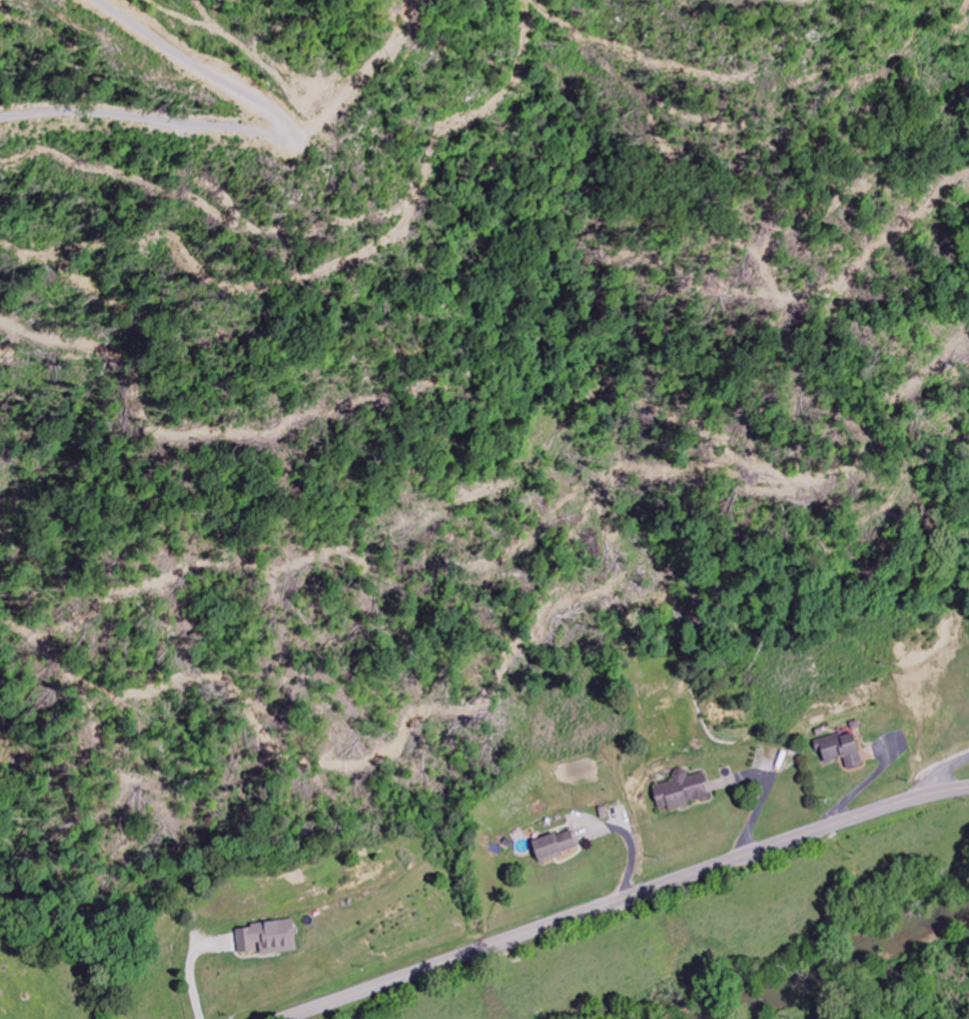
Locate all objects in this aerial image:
building: (840, 750)
building: (680, 791)
building: (553, 847)
road: (624, 899)
building: (267, 939)

